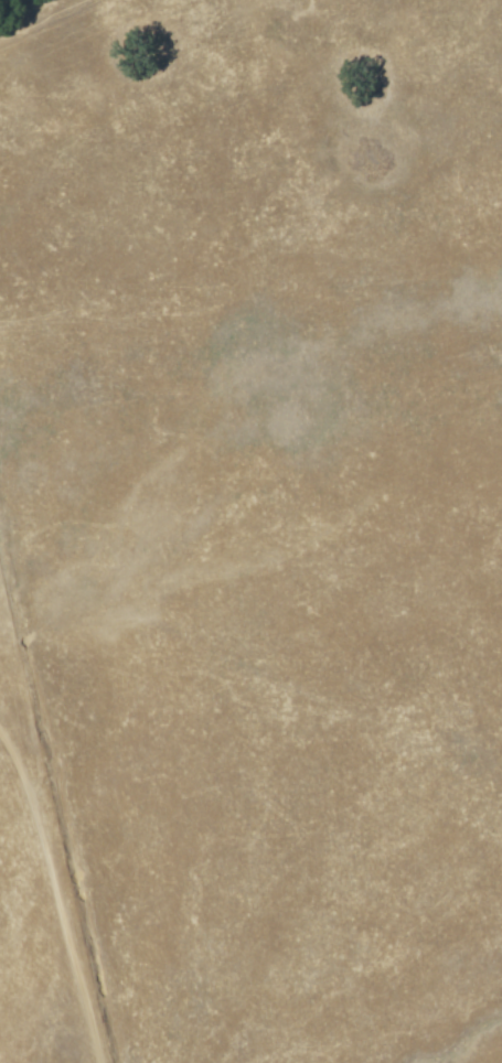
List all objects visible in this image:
road: (64, 890)

